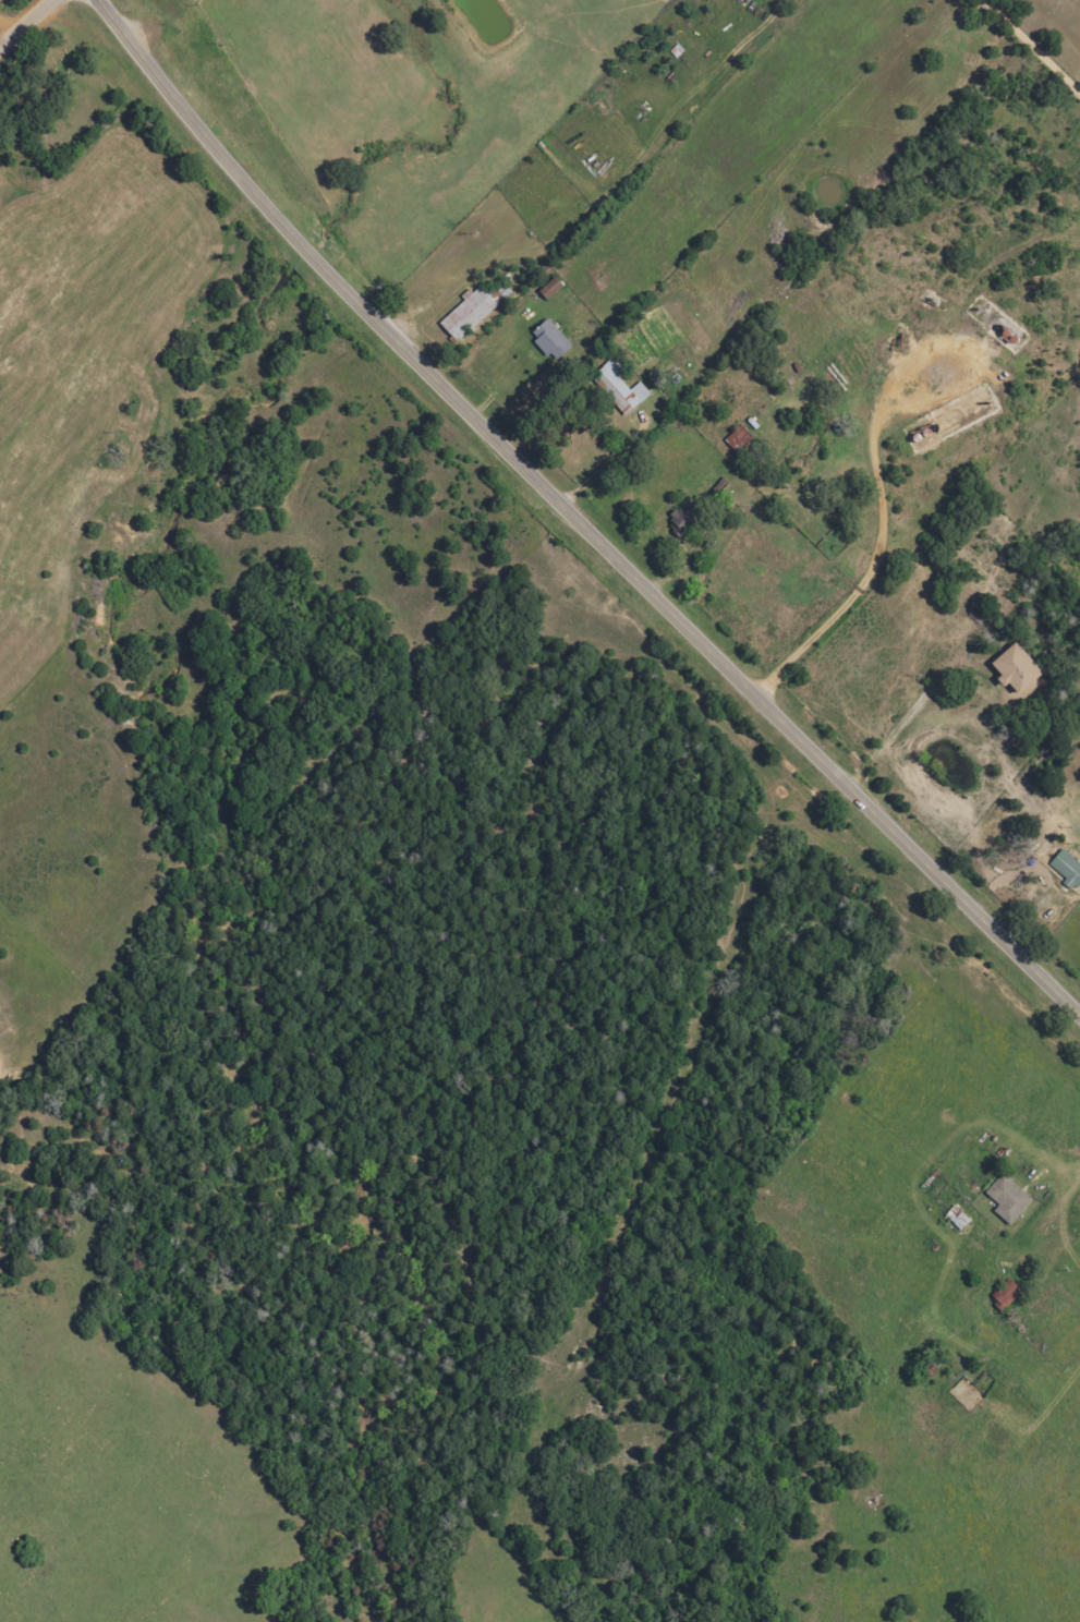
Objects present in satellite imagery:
road: (24, 23)
road: (1031, 48)
building: (555, 288)
building: (471, 313)
building: (555, 340)
petroleum well: (896, 341)
building: (623, 387)
building: (738, 438)
road: (574, 520)
building: (1010, 668)
building: (1066, 868)
building: (1011, 1198)
building: (1009, 1292)

